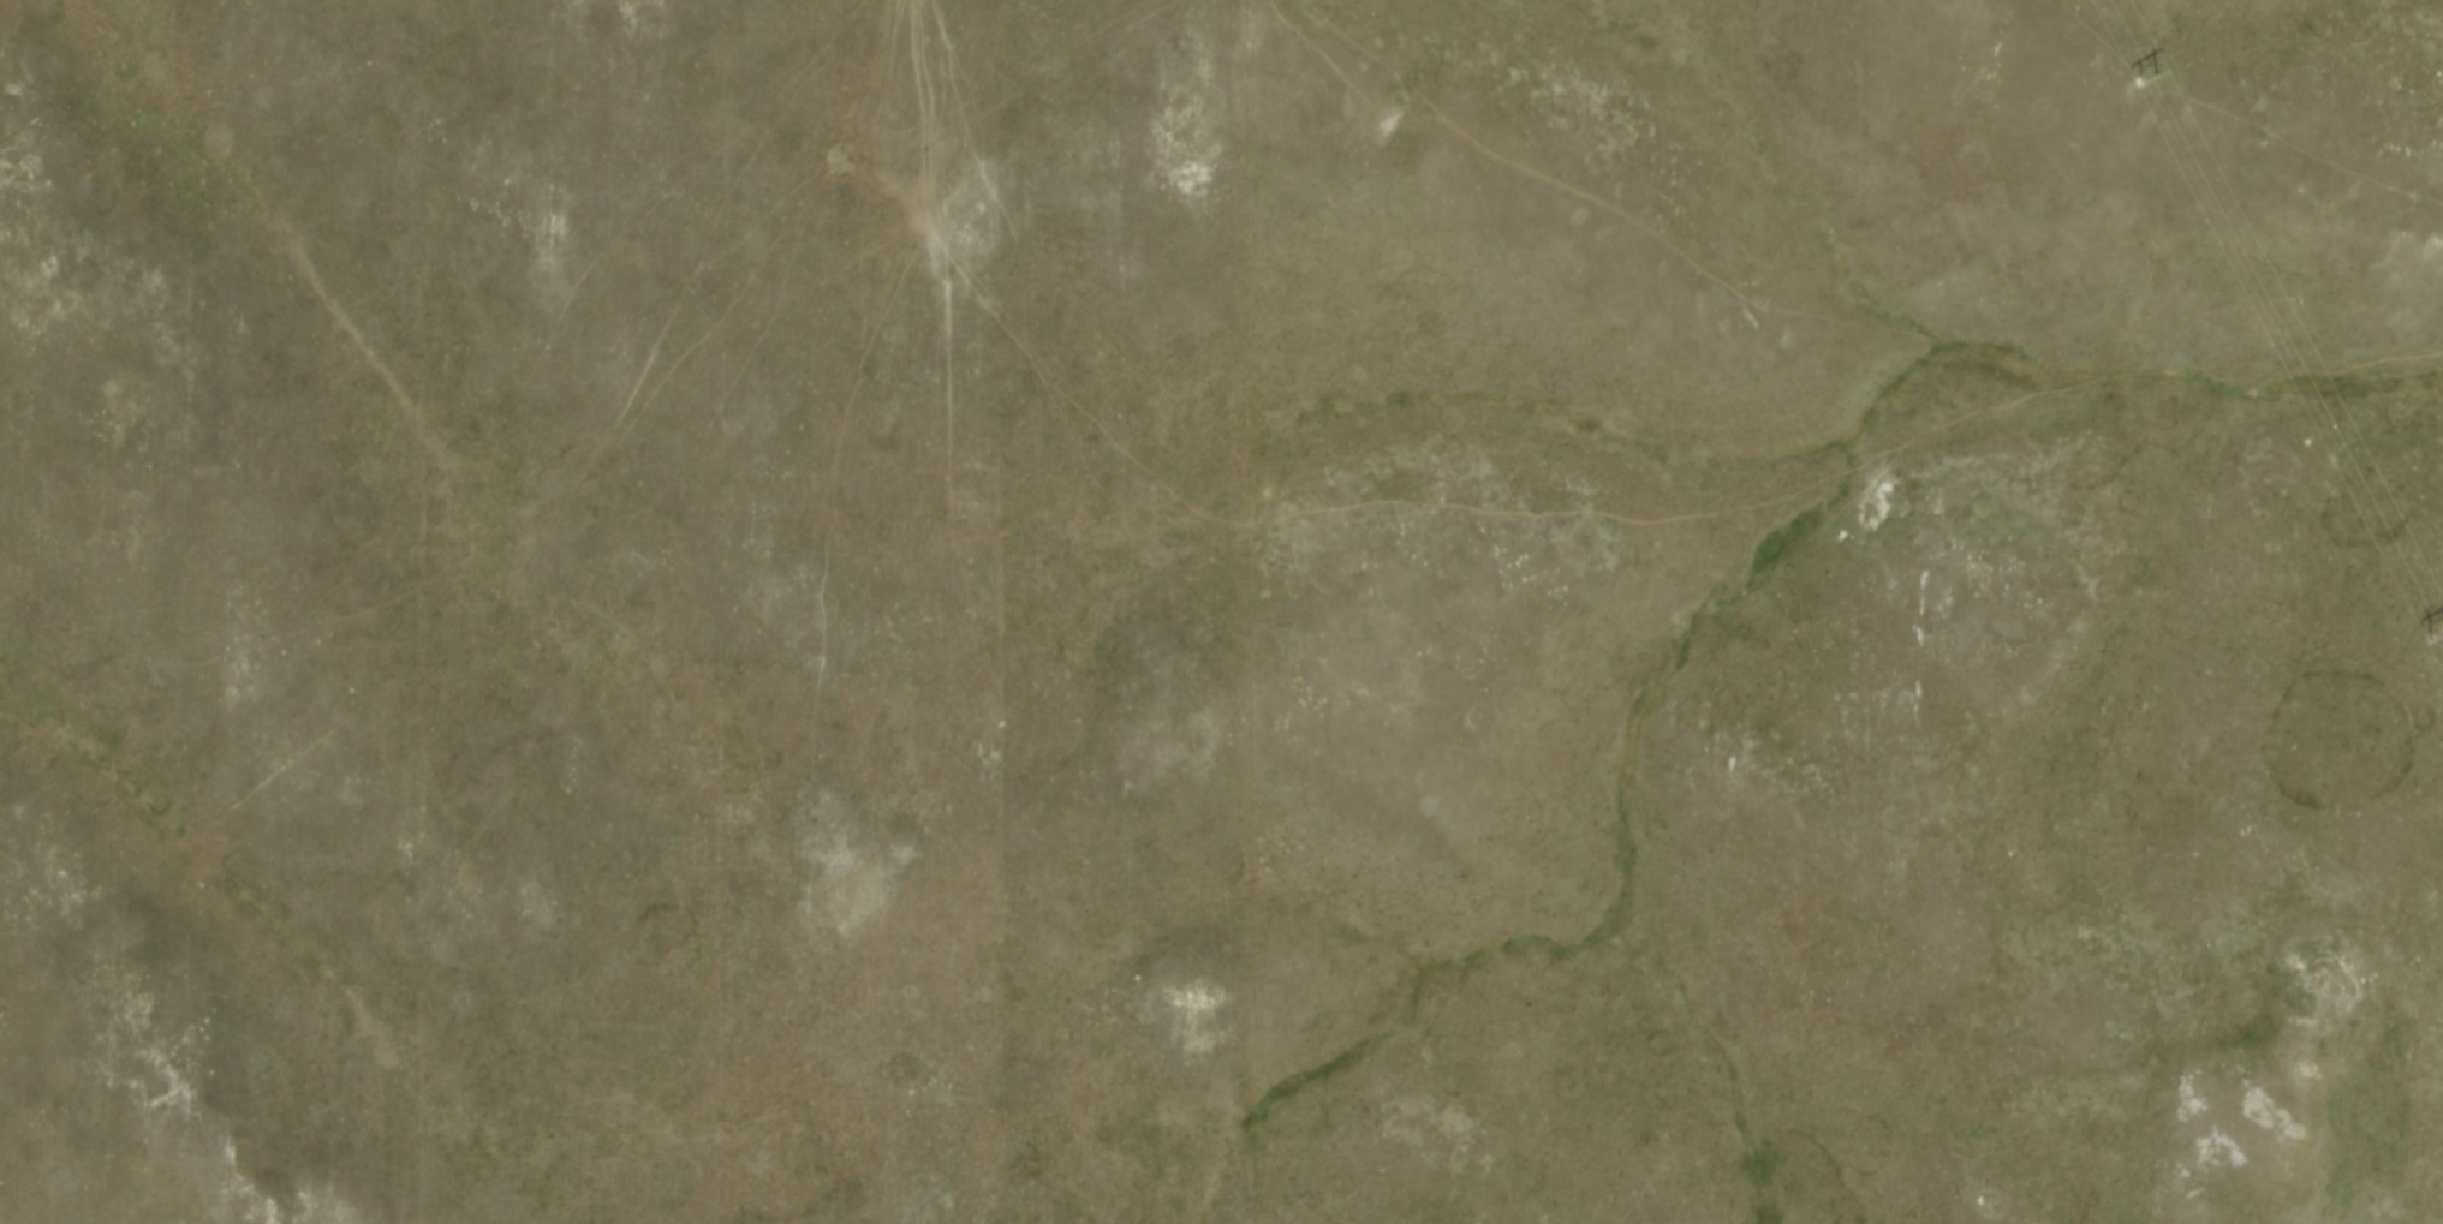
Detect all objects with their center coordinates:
power tower: (2145, 78)
power tower: (2435, 635)

